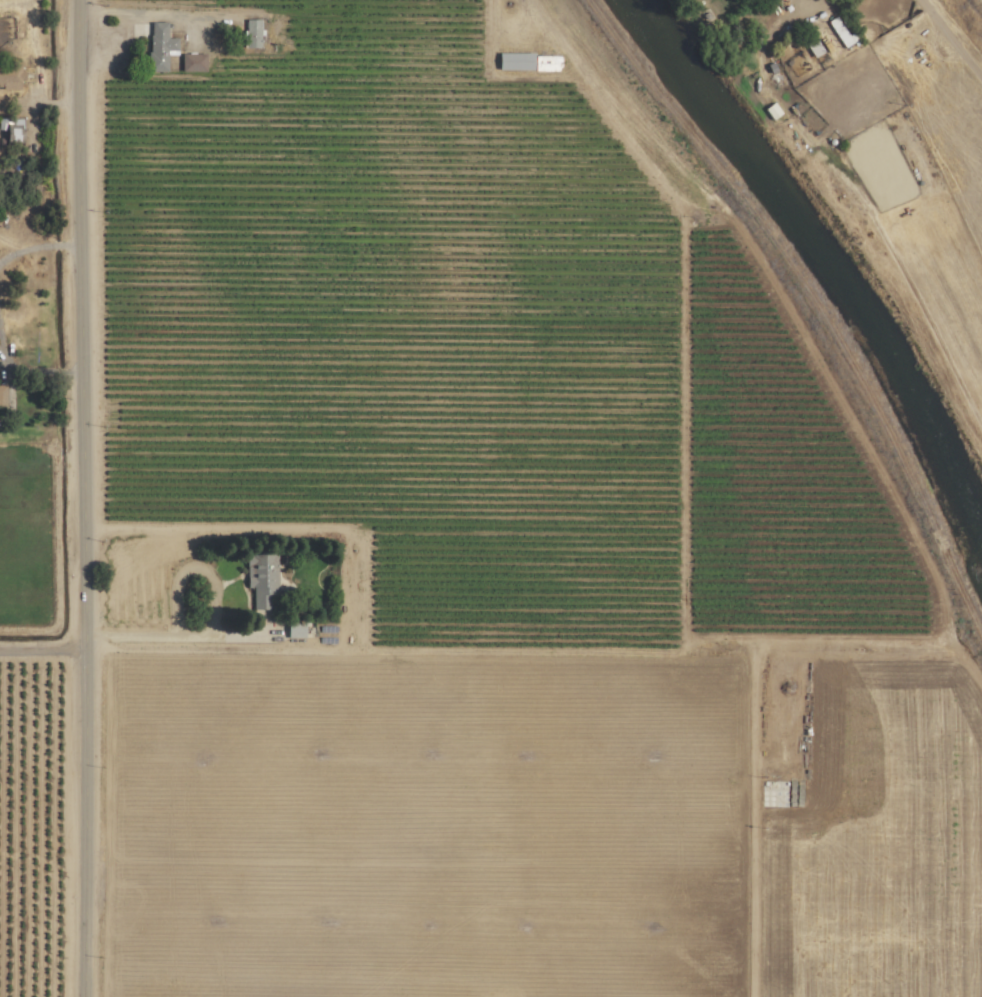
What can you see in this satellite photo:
building: (781, 0)
road: (160, 11)
building: (842, 33)
building: (253, 34)
road: (949, 41)
building: (161, 47)
building: (814, 47)
building: (530, 62)
building: (194, 63)
building: (11, 77)
building: (773, 112)
crop: (906, 183)
road: (54, 246)
road: (73, 246)
road: (22, 251)
road: (19, 370)
road: (57, 373)
road: (75, 373)
building: (3, 399)
road: (85, 498)
building: (263, 576)
road: (211, 618)
building: (297, 629)
road: (43, 650)
crop: (42, 820)

